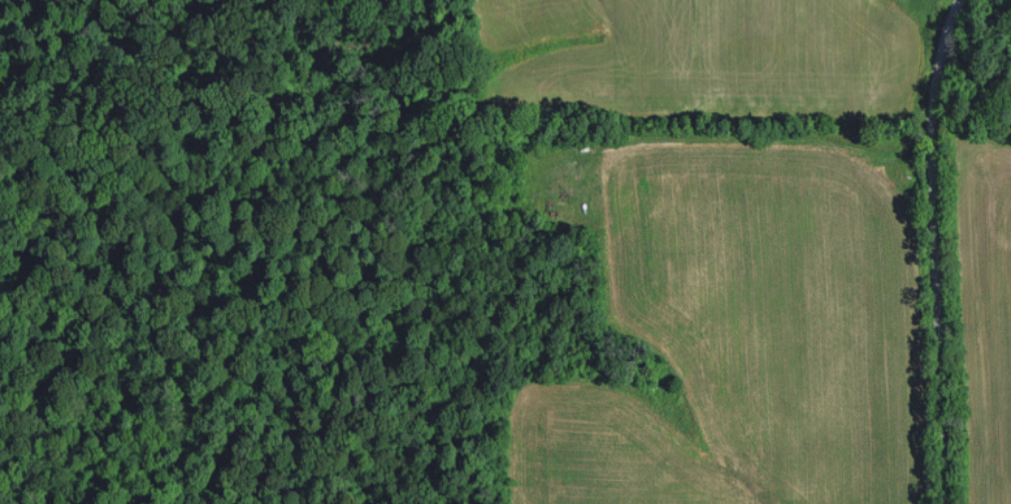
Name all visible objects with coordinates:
road: (934, 250)

